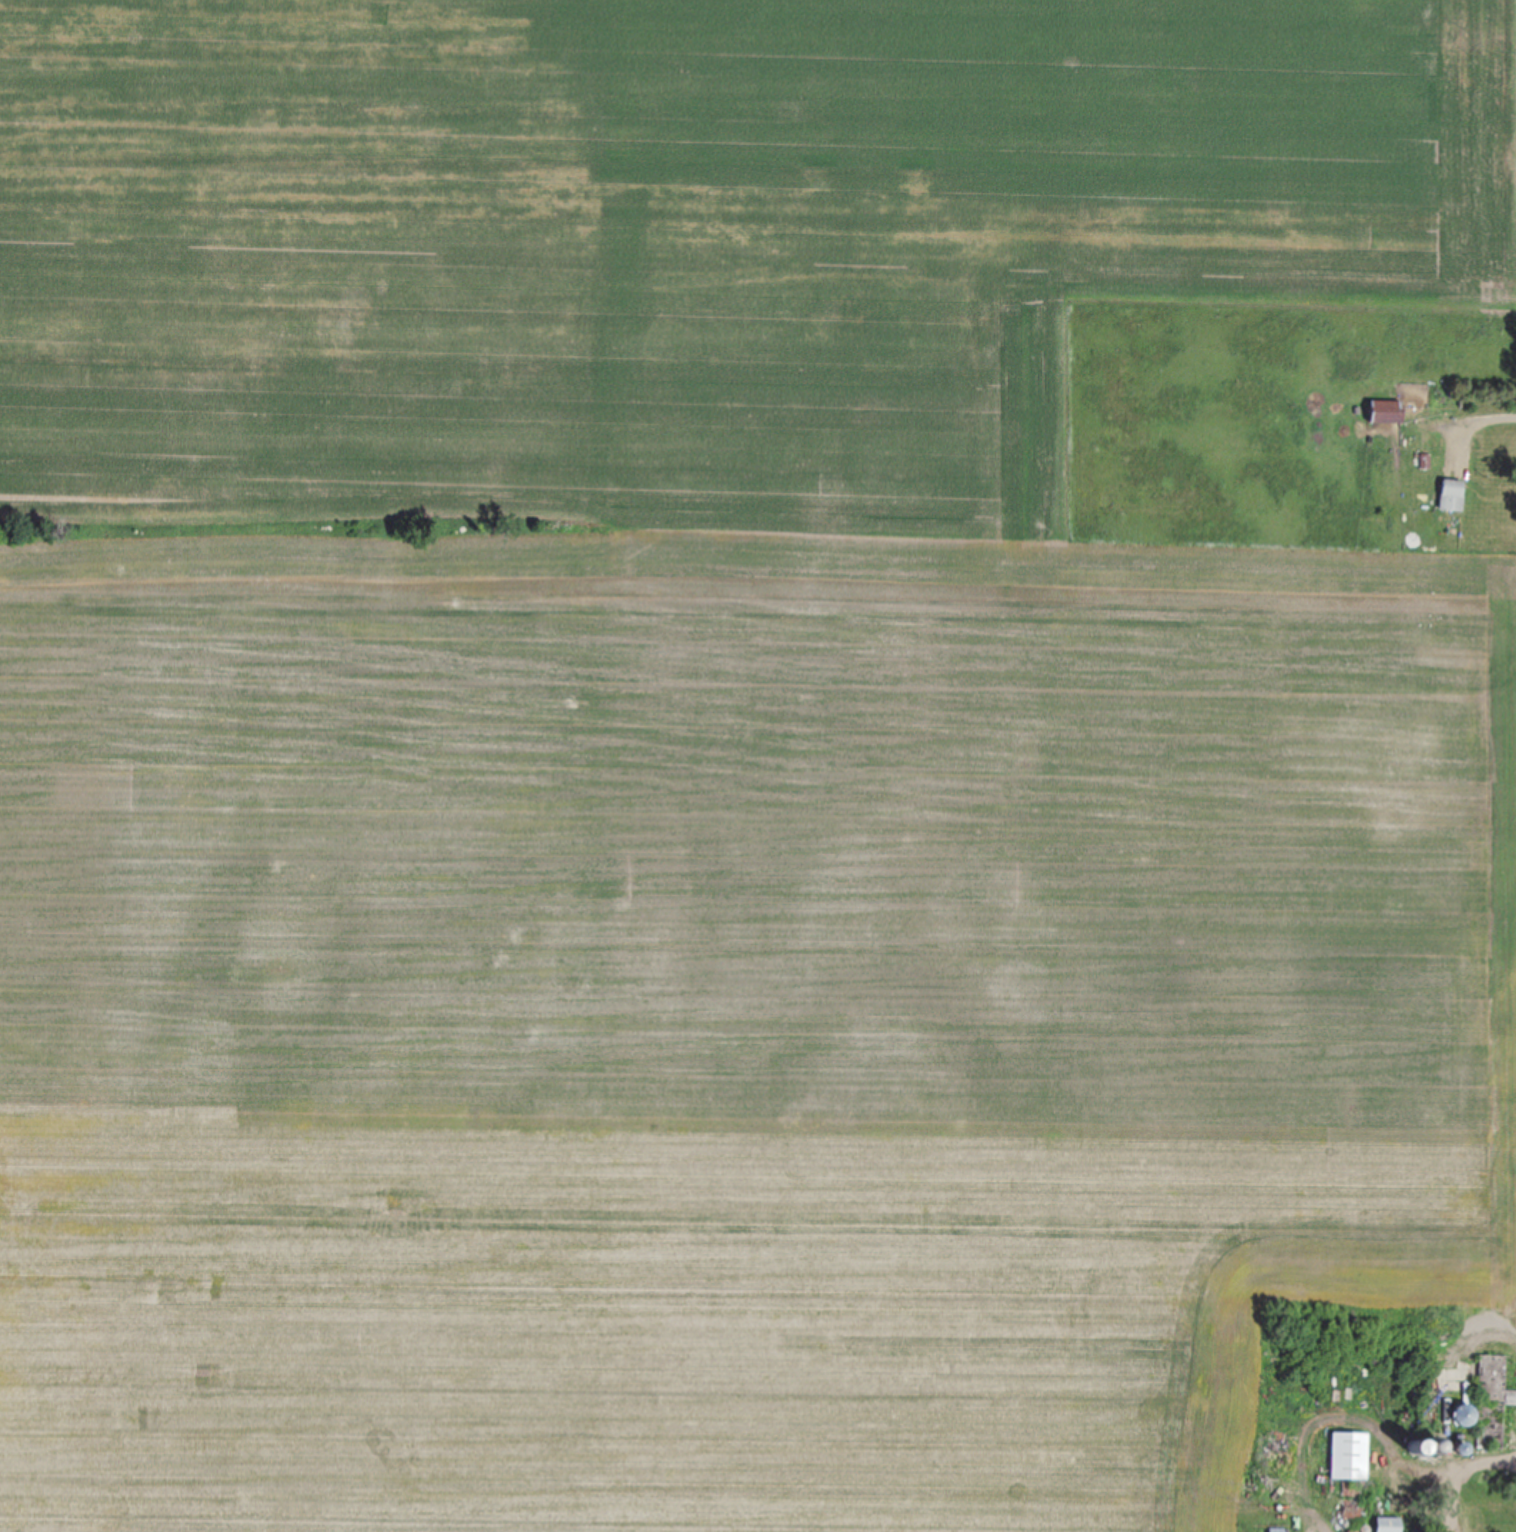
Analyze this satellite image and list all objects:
building: (1384, 411)
building: (1451, 494)
crop: (711, 766)
building: (1491, 1401)
building: (1347, 1454)
building: (1386, 1524)

